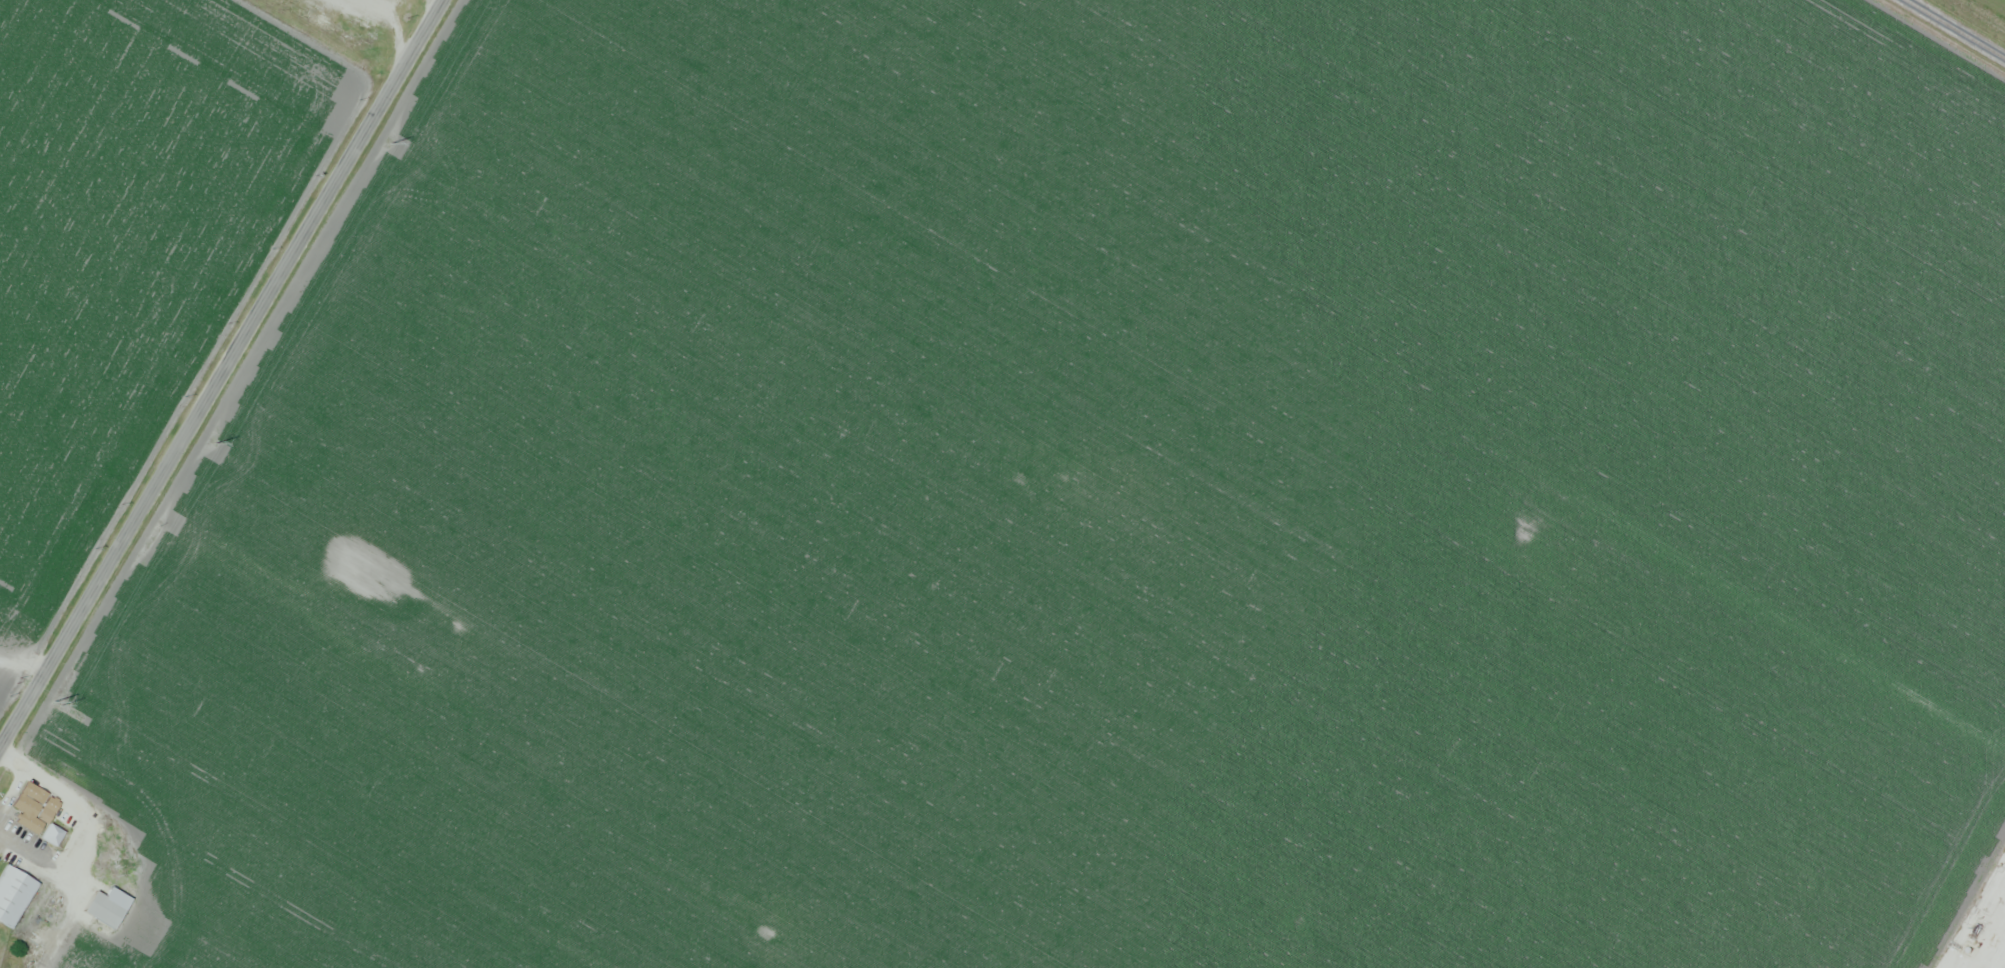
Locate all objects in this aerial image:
railway: (1956, 28)
power tower: (387, 142)
road: (220, 372)
power tower: (212, 438)
road: (23, 663)
power tower: (56, 702)
building: (40, 814)
building: (13, 895)
building: (107, 907)
road: (1986, 928)

